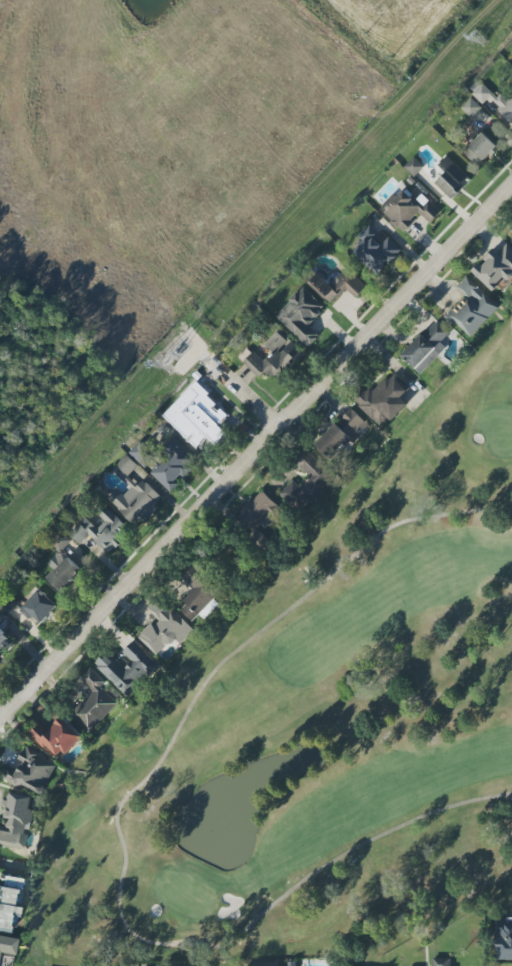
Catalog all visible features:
power tower: (476, 35)
building: (495, 102)
building: (471, 108)
road: (197, 142)
building: (481, 150)
road: (58, 158)
building: (414, 167)
building: (451, 179)
building: (410, 210)
building: (377, 250)
building: (496, 268)
building: (338, 285)
building: (472, 308)
building: (301, 316)
building: (427, 347)
power tower: (170, 357)
building: (273, 357)
road: (244, 395)
building: (383, 401)
building: (197, 416)
building: (342, 435)
road: (254, 450)
building: (143, 455)
building: (174, 465)
building: (307, 483)
building: (135, 496)
building: (259, 514)
building: (102, 531)
building: (63, 565)
building: (39, 607)
building: (164, 628)
building: (4, 636)
building: (128, 669)
building: (94, 702)
park: (318, 728)
building: (58, 738)
building: (31, 772)
building: (17, 822)
road: (125, 823)
building: (9, 903)
building: (504, 941)
building: (7, 945)
building: (442, 962)

